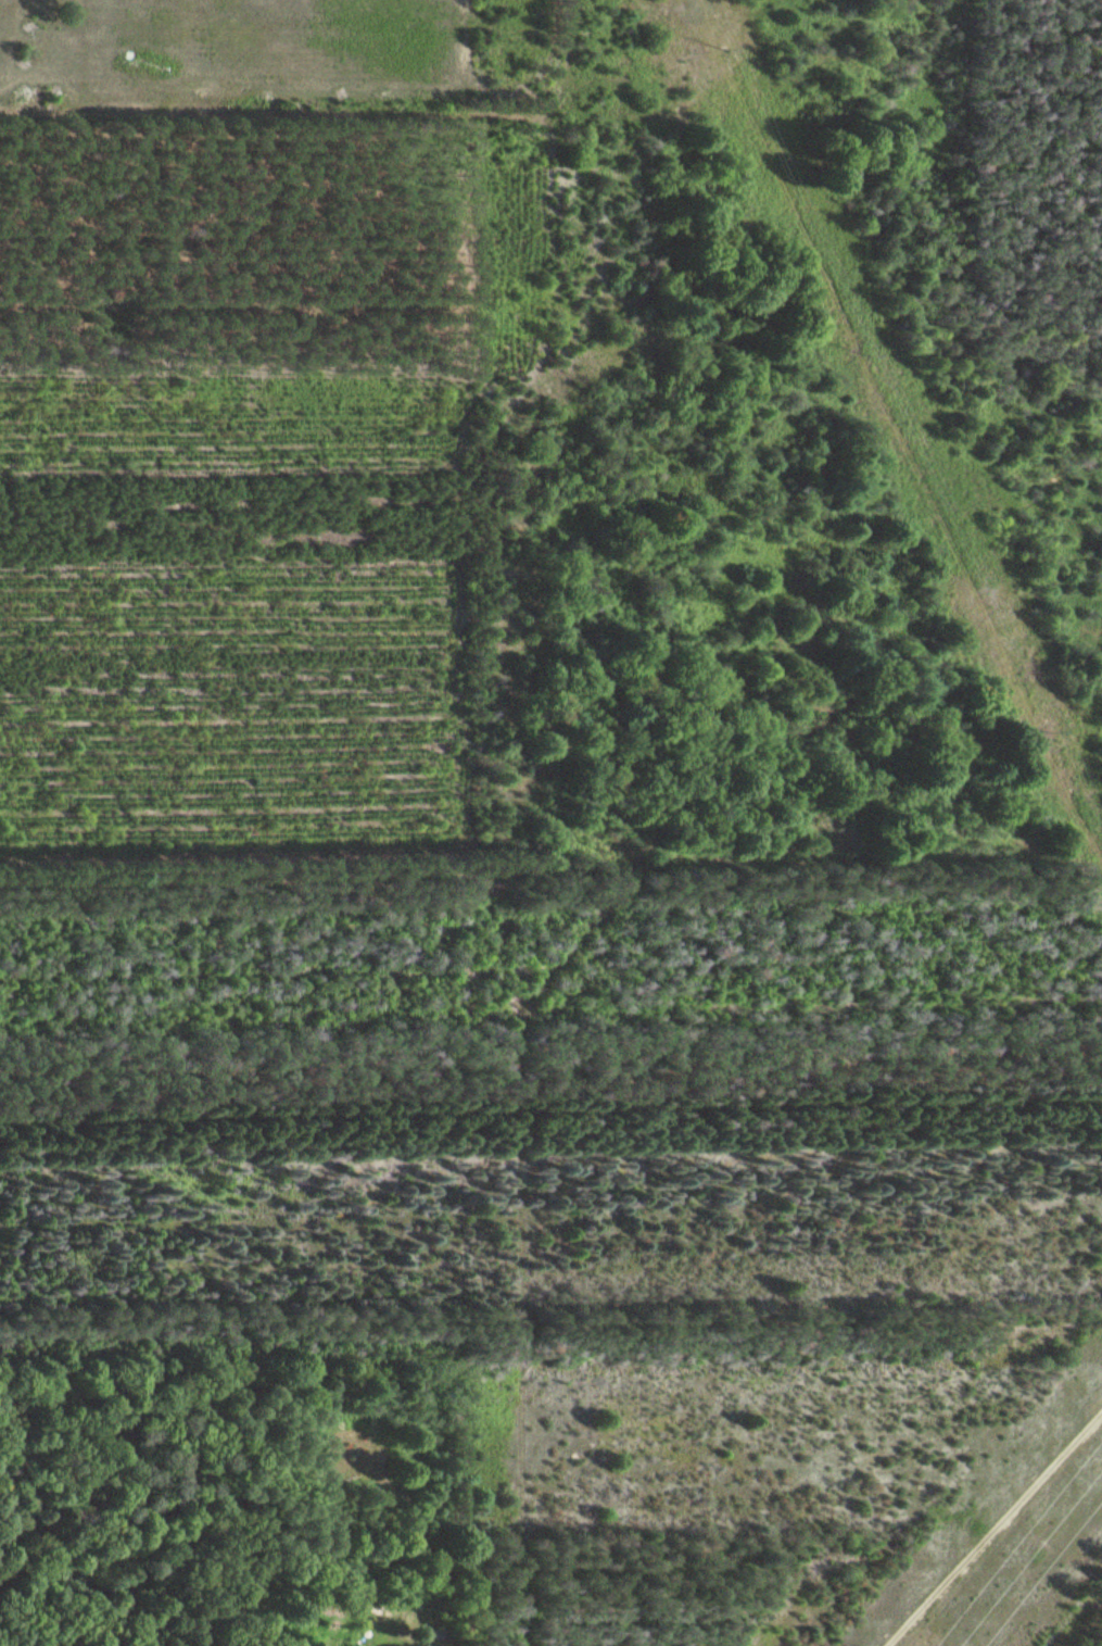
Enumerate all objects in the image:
road: (991, 1524)
building: (29, 1644)

